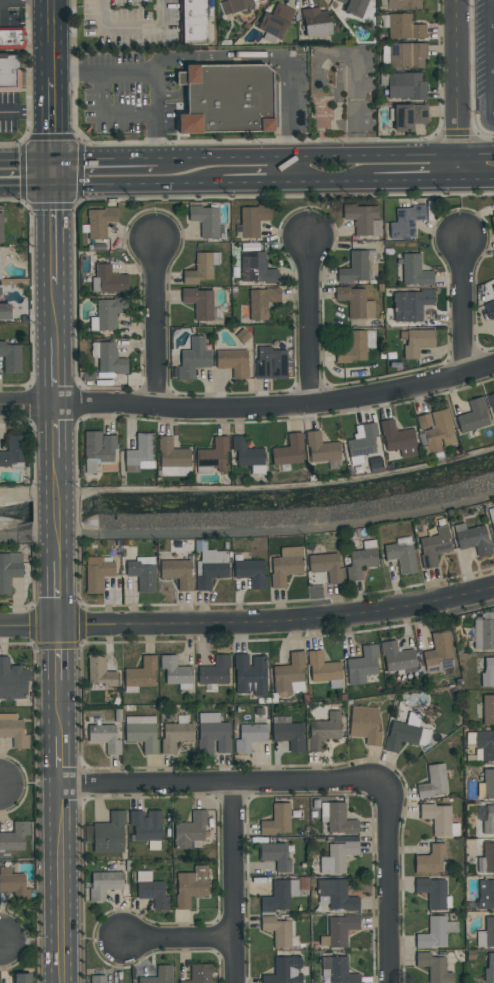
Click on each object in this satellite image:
building: (403, 4)
building: (234, 6)
building: (353, 7)
building: (275, 21)
road: (53, 22)
building: (192, 22)
building: (316, 22)
building: (404, 27)
road: (134, 31)
building: (11, 39)
building: (407, 55)
road: (218, 57)
road: (492, 57)
road: (53, 61)
road: (69, 73)
building: (9, 74)
building: (406, 86)
road: (455, 90)
road: (152, 91)
road: (356, 94)
building: (229, 101)
road: (27, 111)
building: (420, 114)
road: (108, 115)
building: (403, 118)
road: (54, 126)
road: (153, 138)
road: (475, 152)
road: (429, 154)
road: (270, 156)
road: (346, 156)
road: (291, 157)
road: (219, 158)
road: (120, 159)
road: (28, 172)
traffic signals: (56, 173)
road: (475, 179)
road: (375, 182)
road: (244, 183)
road: (124, 184)
building: (252, 219)
building: (362, 219)
building: (99, 221)
building: (206, 221)
building: (405, 221)
building: (492, 222)
building: (1, 228)
road: (57, 229)
building: (100, 244)
building: (493, 256)
building: (200, 267)
building: (359, 267)
building: (255, 268)
building: (0, 269)
building: (414, 270)
building: (108, 280)
building: (199, 302)
building: (261, 302)
building: (355, 302)
building: (410, 304)
road: (459, 305)
building: (489, 309)
building: (4, 311)
road: (57, 311)
building: (107, 313)
road: (306, 319)
road: (156, 320)
building: (415, 341)
building: (355, 346)
building: (10, 357)
building: (108, 358)
building: (192, 359)
building: (232, 362)
building: (270, 362)
road: (57, 370)
building: (490, 402)
road: (249, 406)
building: (472, 416)
building: (423, 421)
road: (57, 430)
building: (437, 432)
building: (397, 439)
building: (360, 442)
building: (98, 446)
building: (320, 448)
building: (288, 450)
building: (12, 451)
building: (140, 452)
building: (246, 452)
building: (212, 455)
building: (171, 458)
road: (58, 470)
road: (249, 487)
road: (58, 508)
building: (491, 516)
road: (278, 530)
road: (59, 537)
building: (474, 540)
building: (435, 546)
road: (59, 550)
building: (401, 557)
building: (359, 563)
building: (286, 566)
building: (325, 566)
building: (251, 572)
building: (8, 573)
building: (177, 573)
building: (97, 574)
building: (210, 574)
building: (142, 576)
road: (59, 592)
road: (248, 619)
building: (487, 635)
building: (438, 649)
road: (60, 652)
building: (396, 657)
building: (363, 665)
building: (322, 669)
building: (100, 671)
building: (175, 671)
building: (215, 671)
building: (287, 672)
building: (142, 673)
building: (488, 673)
building: (250, 675)
building: (12, 681)
road: (61, 708)
building: (488, 709)
building: (365, 725)
building: (324, 731)
building: (14, 733)
building: (216, 735)
building: (289, 735)
building: (142, 736)
building: (175, 736)
building: (401, 736)
building: (104, 737)
building: (250, 737)
building: (485, 745)
road: (64, 758)
road: (226, 780)
building: (433, 782)
building: (488, 784)
building: (437, 818)
building: (277, 820)
building: (340, 820)
building: (489, 821)
building: (146, 825)
building: (190, 830)
building: (109, 833)
building: (13, 839)
building: (275, 856)
building: (337, 857)
building: (488, 857)
building: (431, 859)
road: (238, 881)
road: (389, 881)
road: (65, 882)
building: (104, 885)
building: (191, 886)
building: (15, 887)
building: (433, 893)
building: (153, 894)
building: (337, 895)
building: (485, 895)
building: (276, 898)
building: (341, 930)
building: (277, 931)
building: (489, 931)
building: (433, 933)
road: (179, 939)
building: (434, 968)
building: (489, 969)
building: (284, 970)
building: (341, 971)
building: (199, 973)
building: (160, 976)
building: (22, 979)
building: (97, 979)

